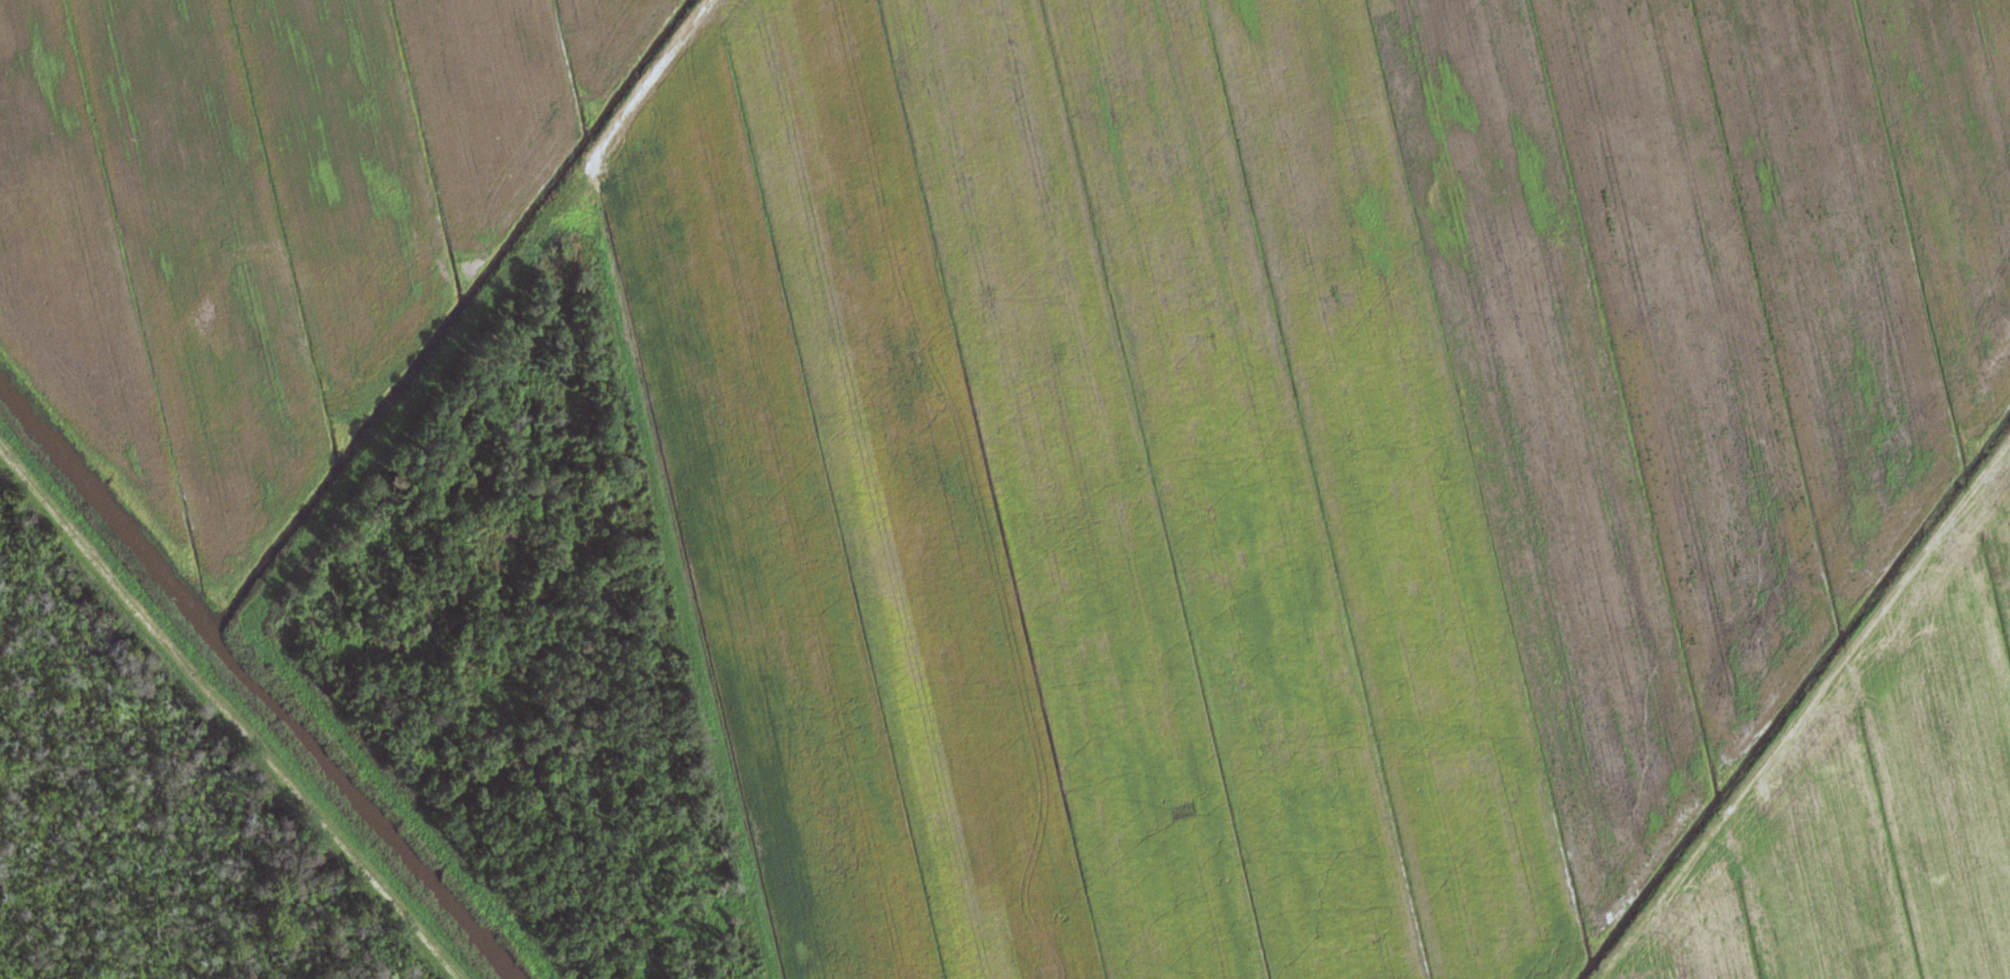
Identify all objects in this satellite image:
road: (656, 75)
crop: (263, 222)
crop: (1289, 446)
road: (79, 549)
crop: (1875, 803)
road: (317, 809)

